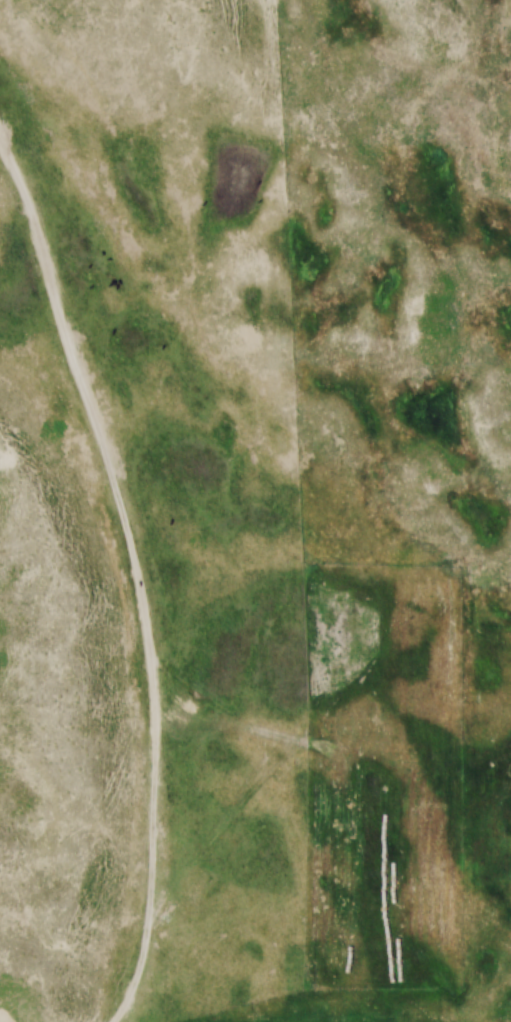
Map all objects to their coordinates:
road: (135, 583)

